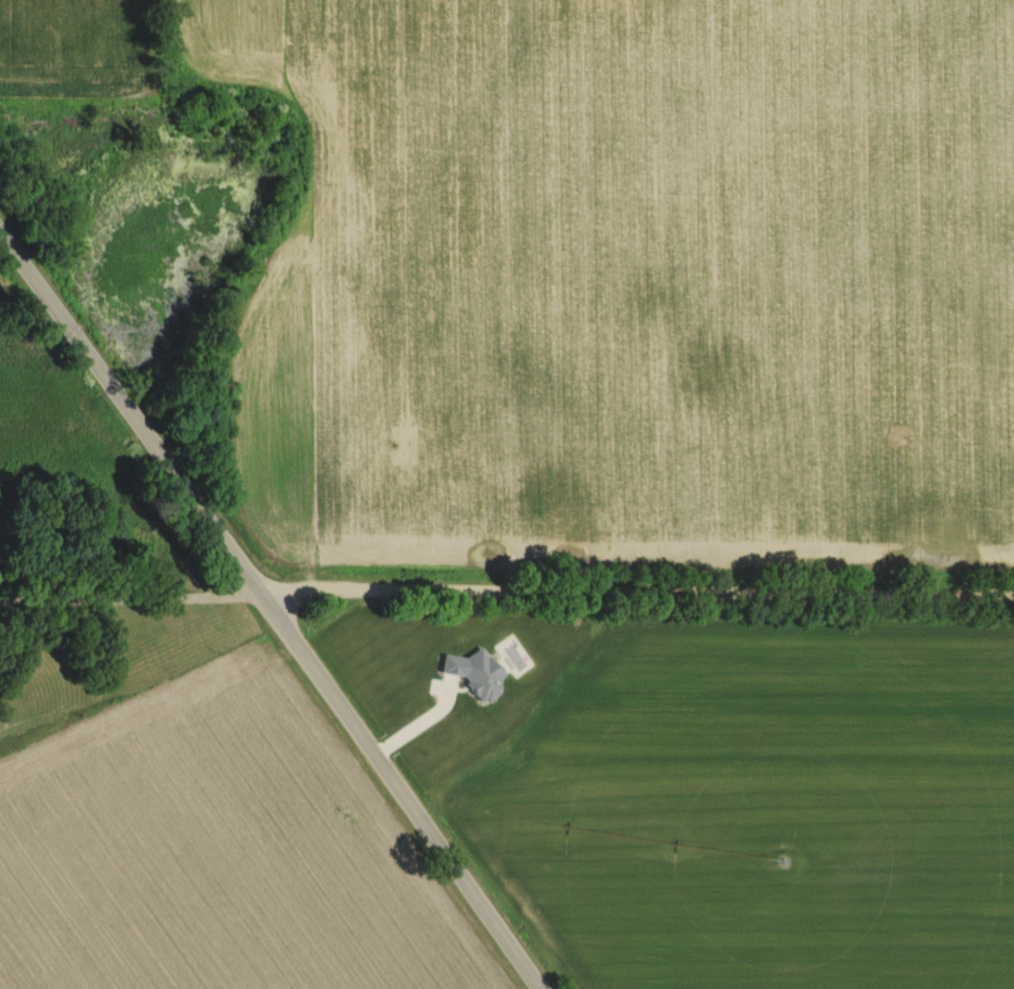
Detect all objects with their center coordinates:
crop: (65, 40)
crop: (630, 278)
road: (635, 591)
road: (128, 597)
road: (270, 610)
crop: (211, 856)

